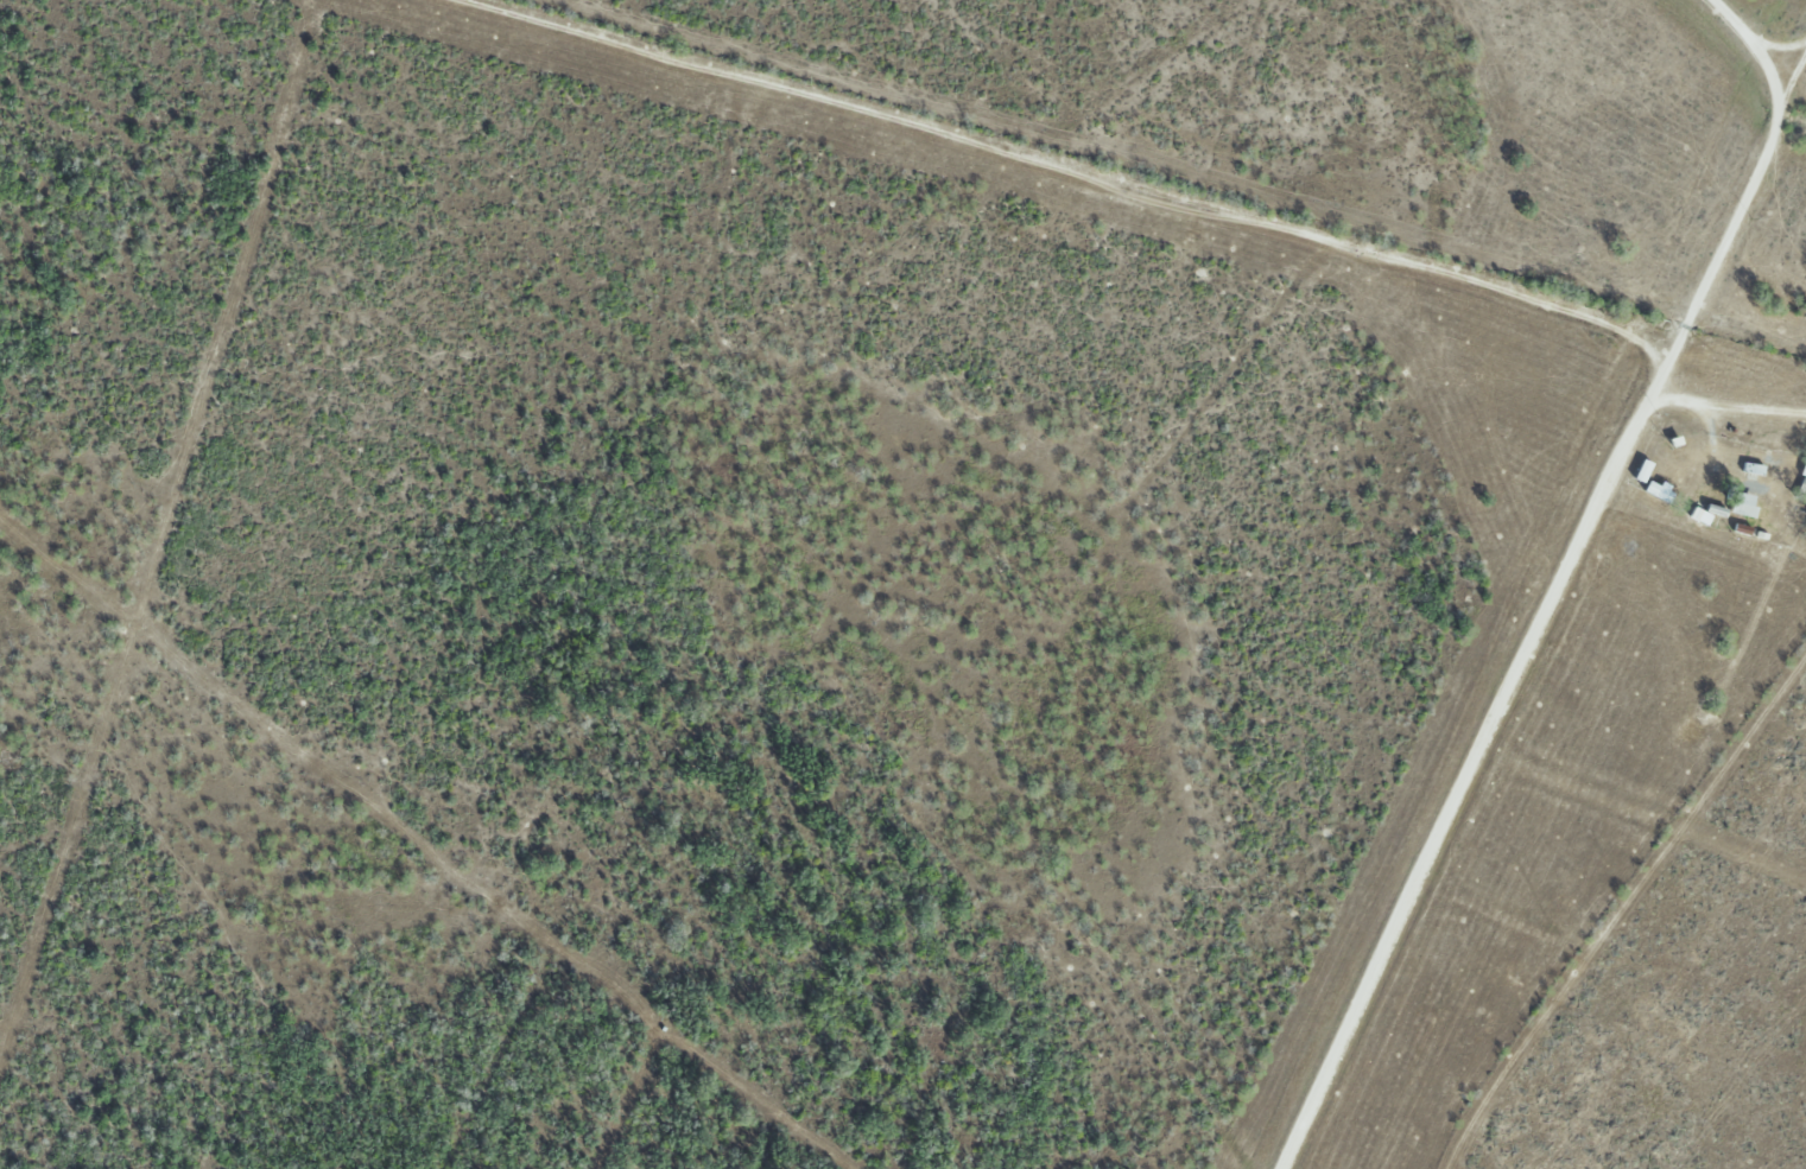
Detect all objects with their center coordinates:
road: (1761, 37)
road: (1155, 185)
building: (1754, 469)
building: (1804, 484)
building: (1692, 488)
building: (1745, 504)
road: (1550, 615)

